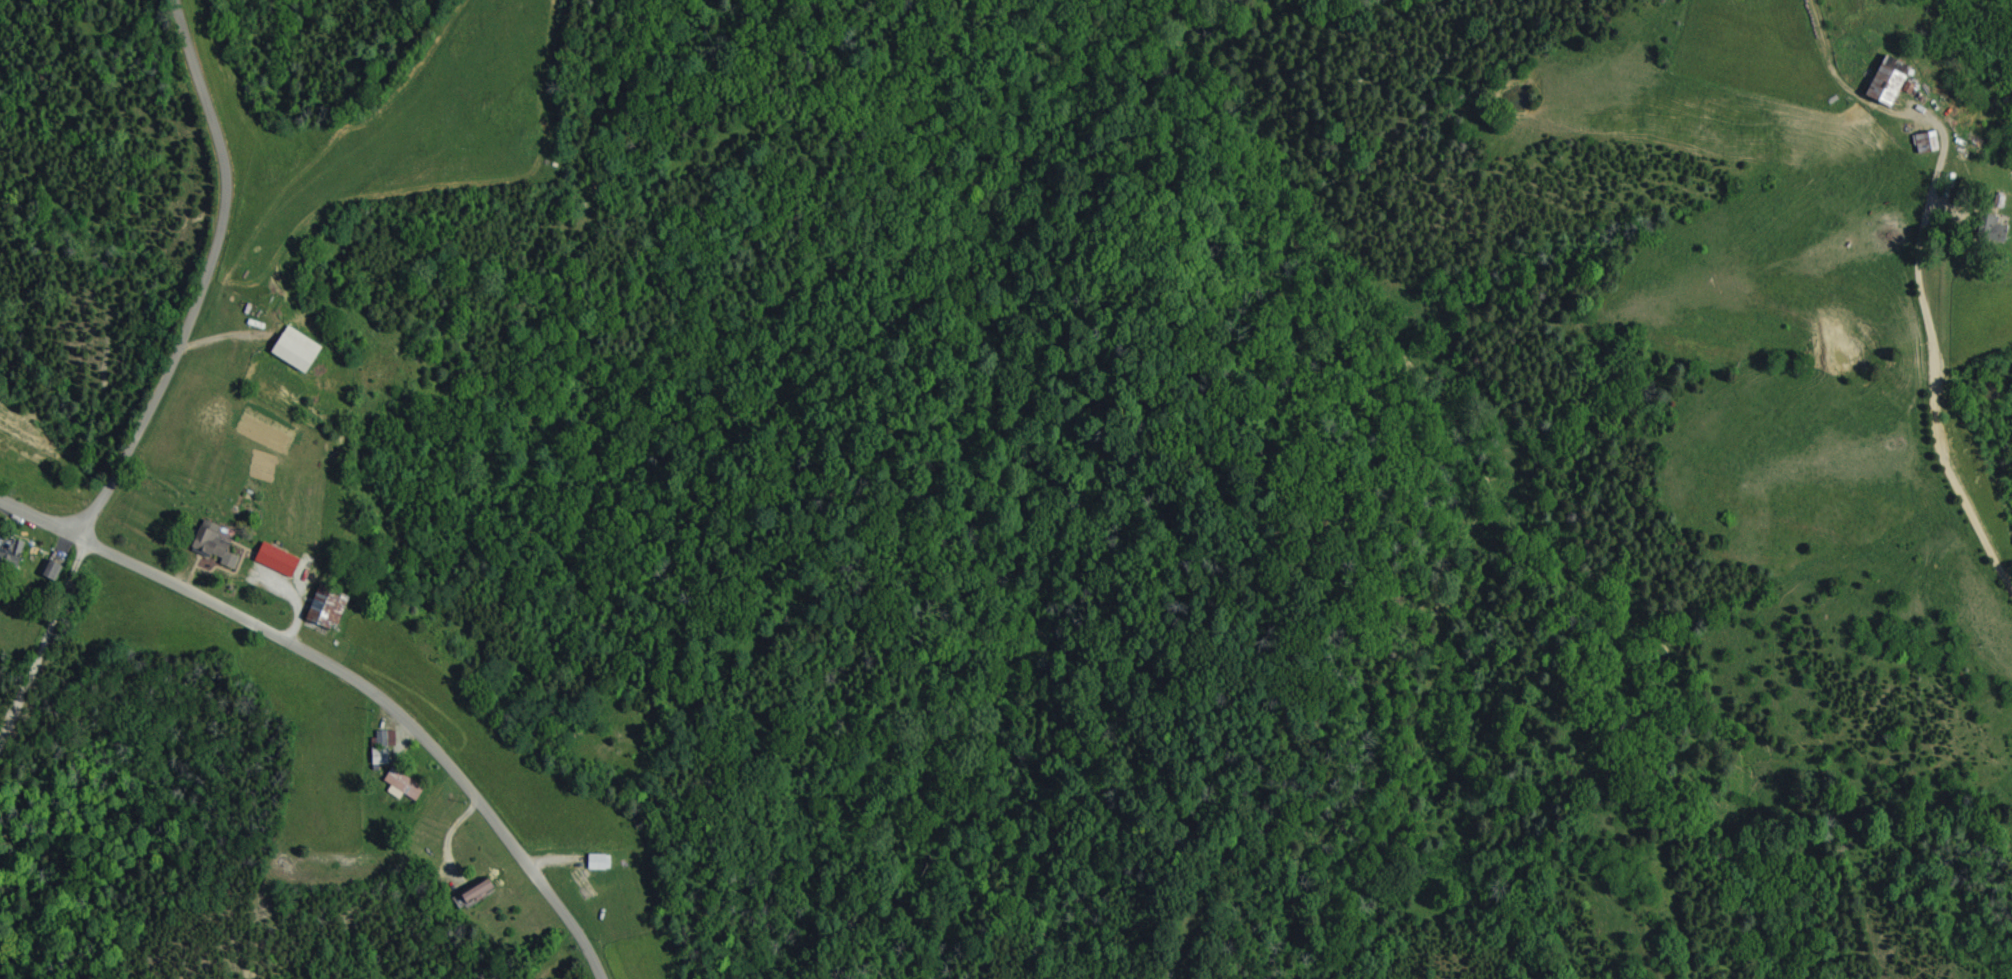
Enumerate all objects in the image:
building: (1889, 83)
building: (1926, 141)
road: (202, 284)
building: (298, 348)
crop: (1796, 350)
road: (1937, 370)
road: (37, 532)
building: (215, 543)
building: (10, 551)
building: (278, 559)
building: (54, 569)
building: (328, 606)
road: (39, 631)
road: (379, 704)
building: (403, 784)
building: (599, 861)
building: (479, 888)

